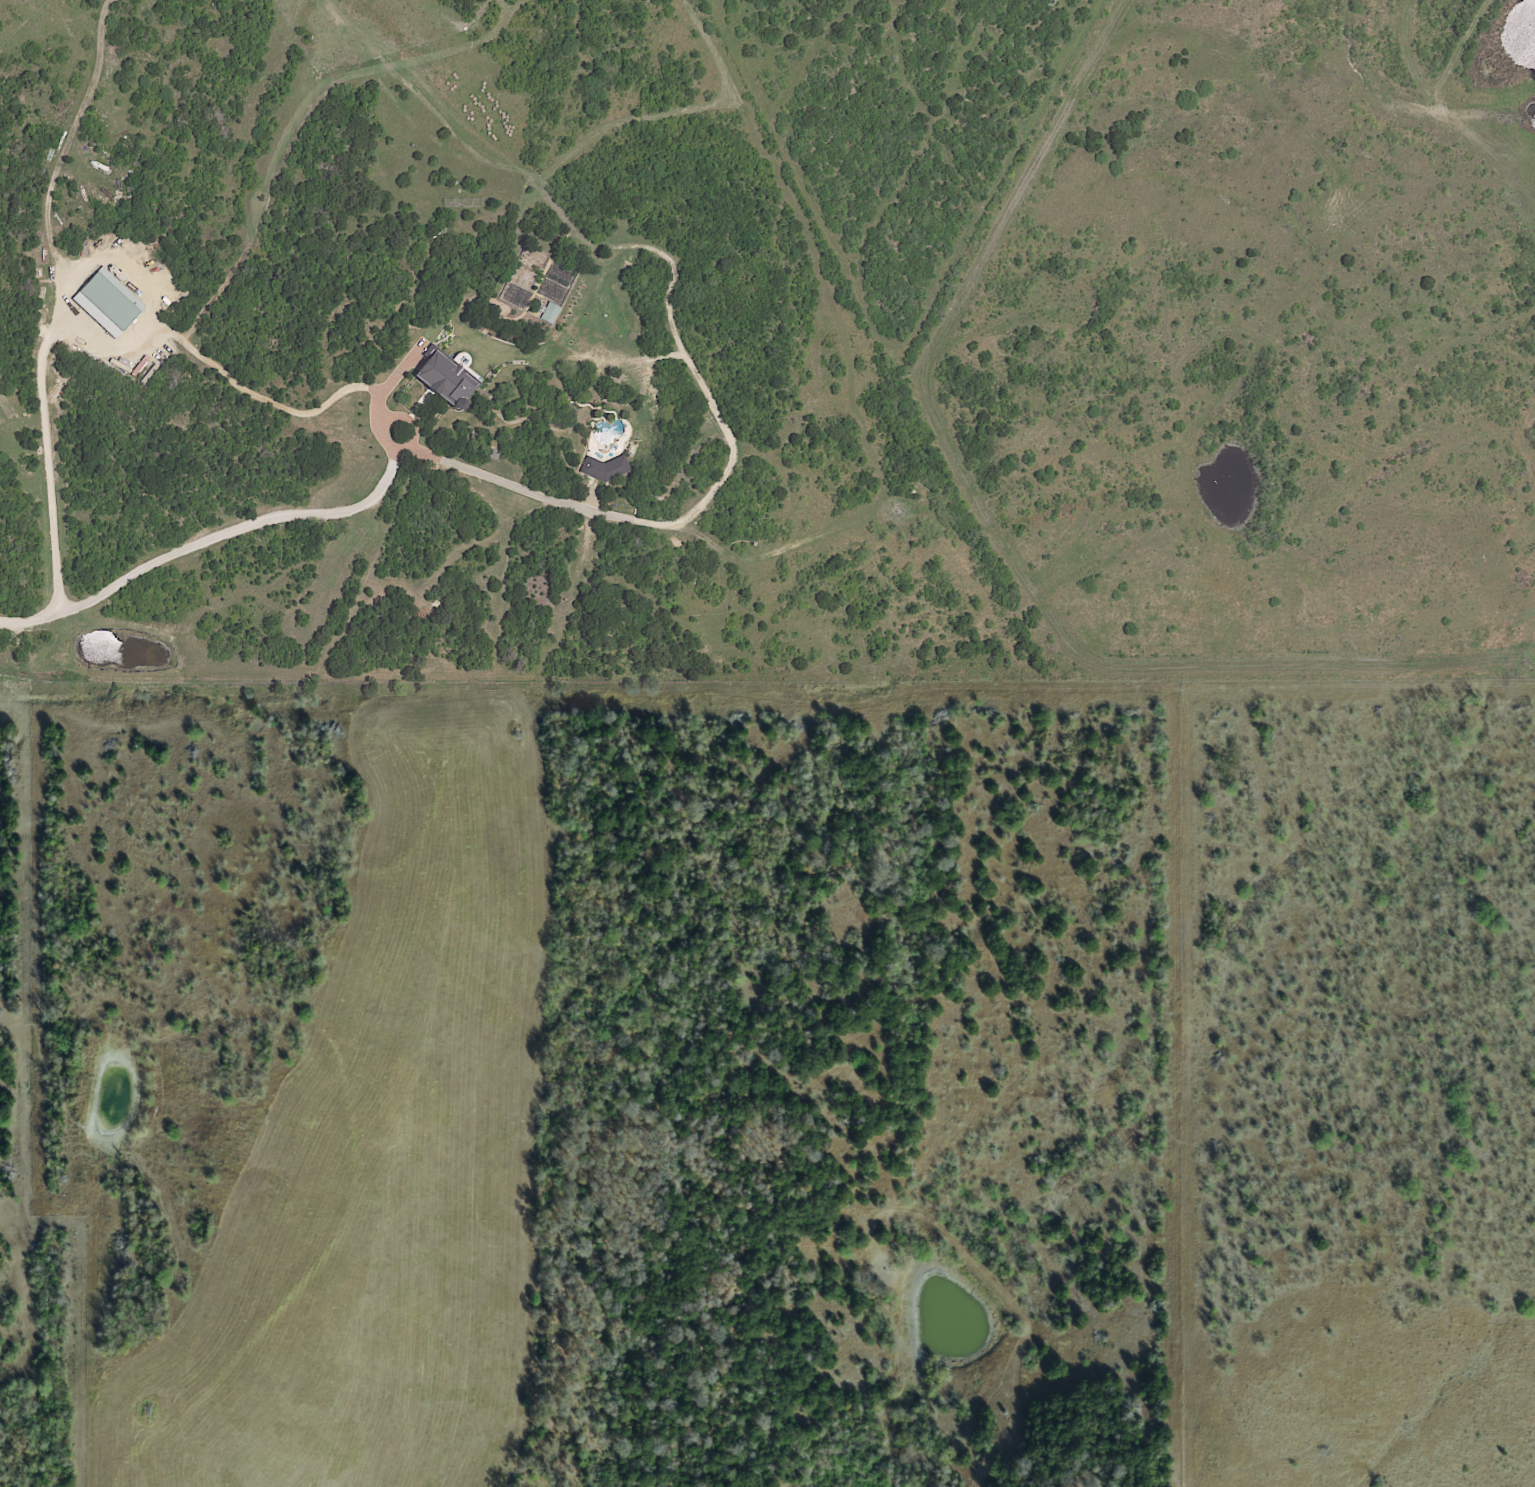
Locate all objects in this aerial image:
road: (61, 283)
building: (107, 302)
building: (549, 313)
road: (105, 345)
building: (445, 378)
road: (385, 416)
road: (694, 513)
road: (208, 540)

